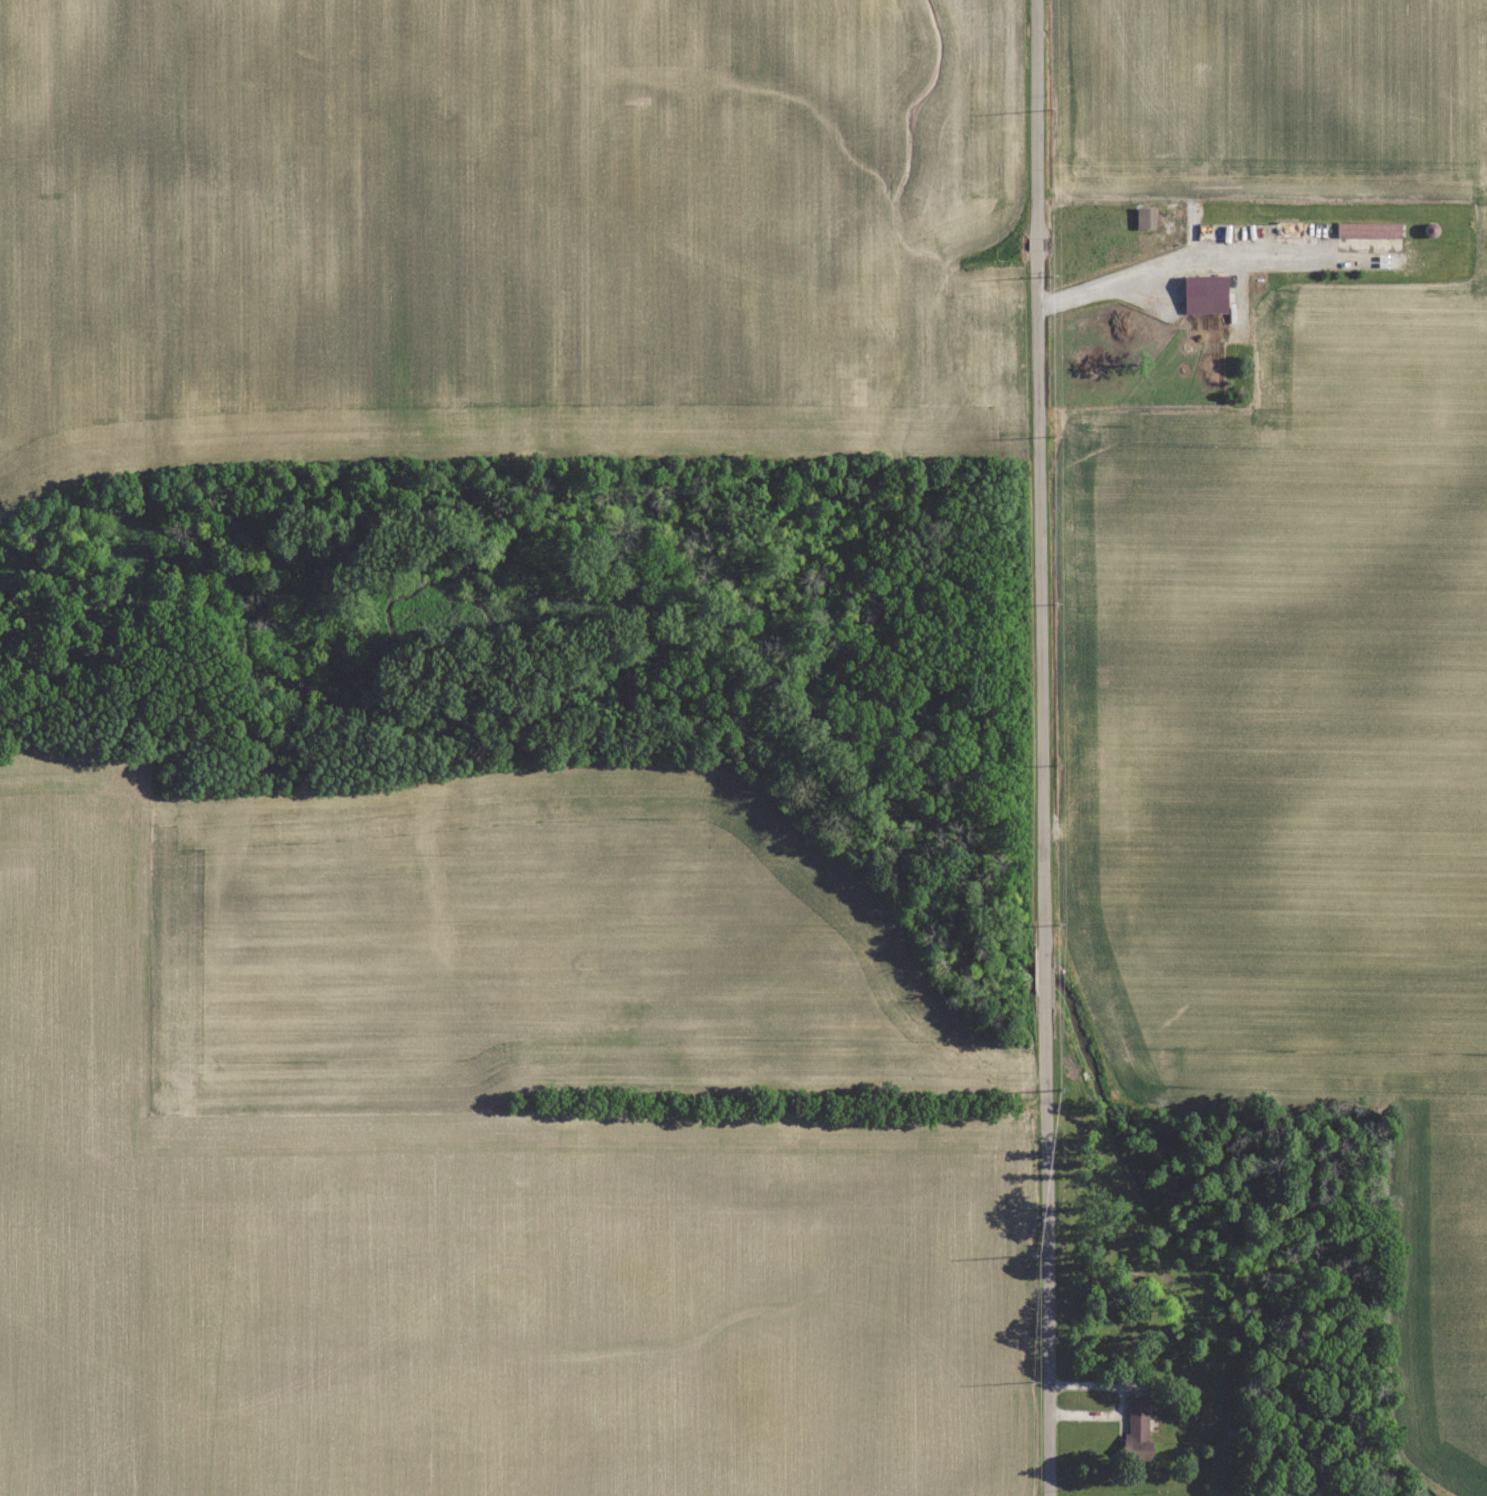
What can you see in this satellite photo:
building: (1146, 217)
building: (1369, 229)
building: (1431, 230)
building: (1206, 283)
road: (1043, 747)
building: (1138, 1430)

